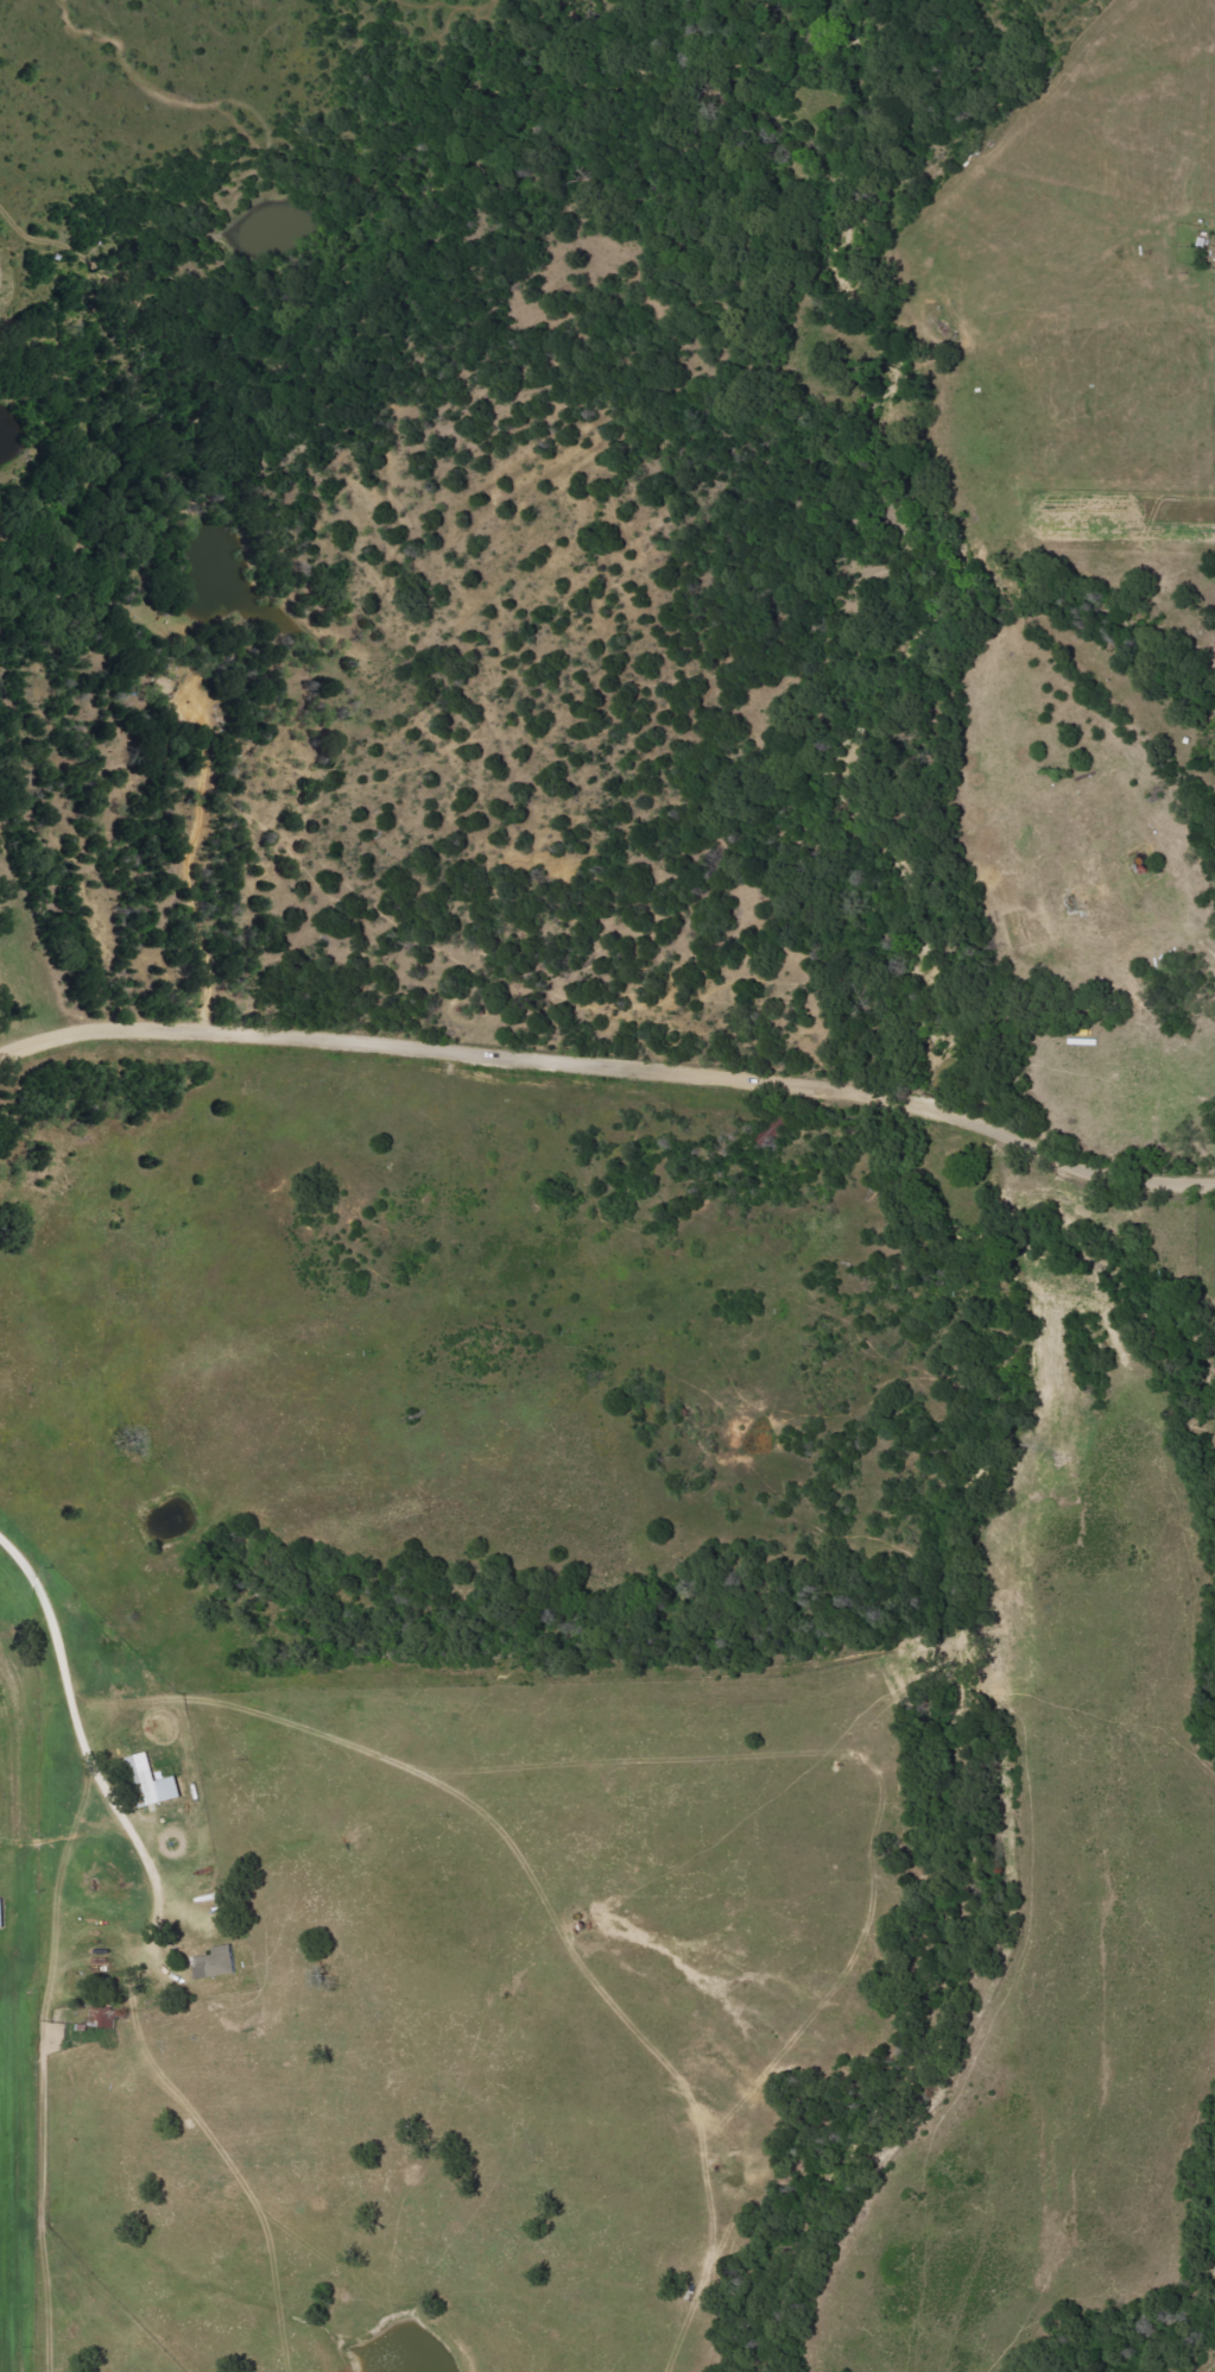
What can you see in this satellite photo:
road: (612, 1078)
road: (391, 1507)
building: (153, 1781)
building: (2, 1912)
building: (216, 1962)

